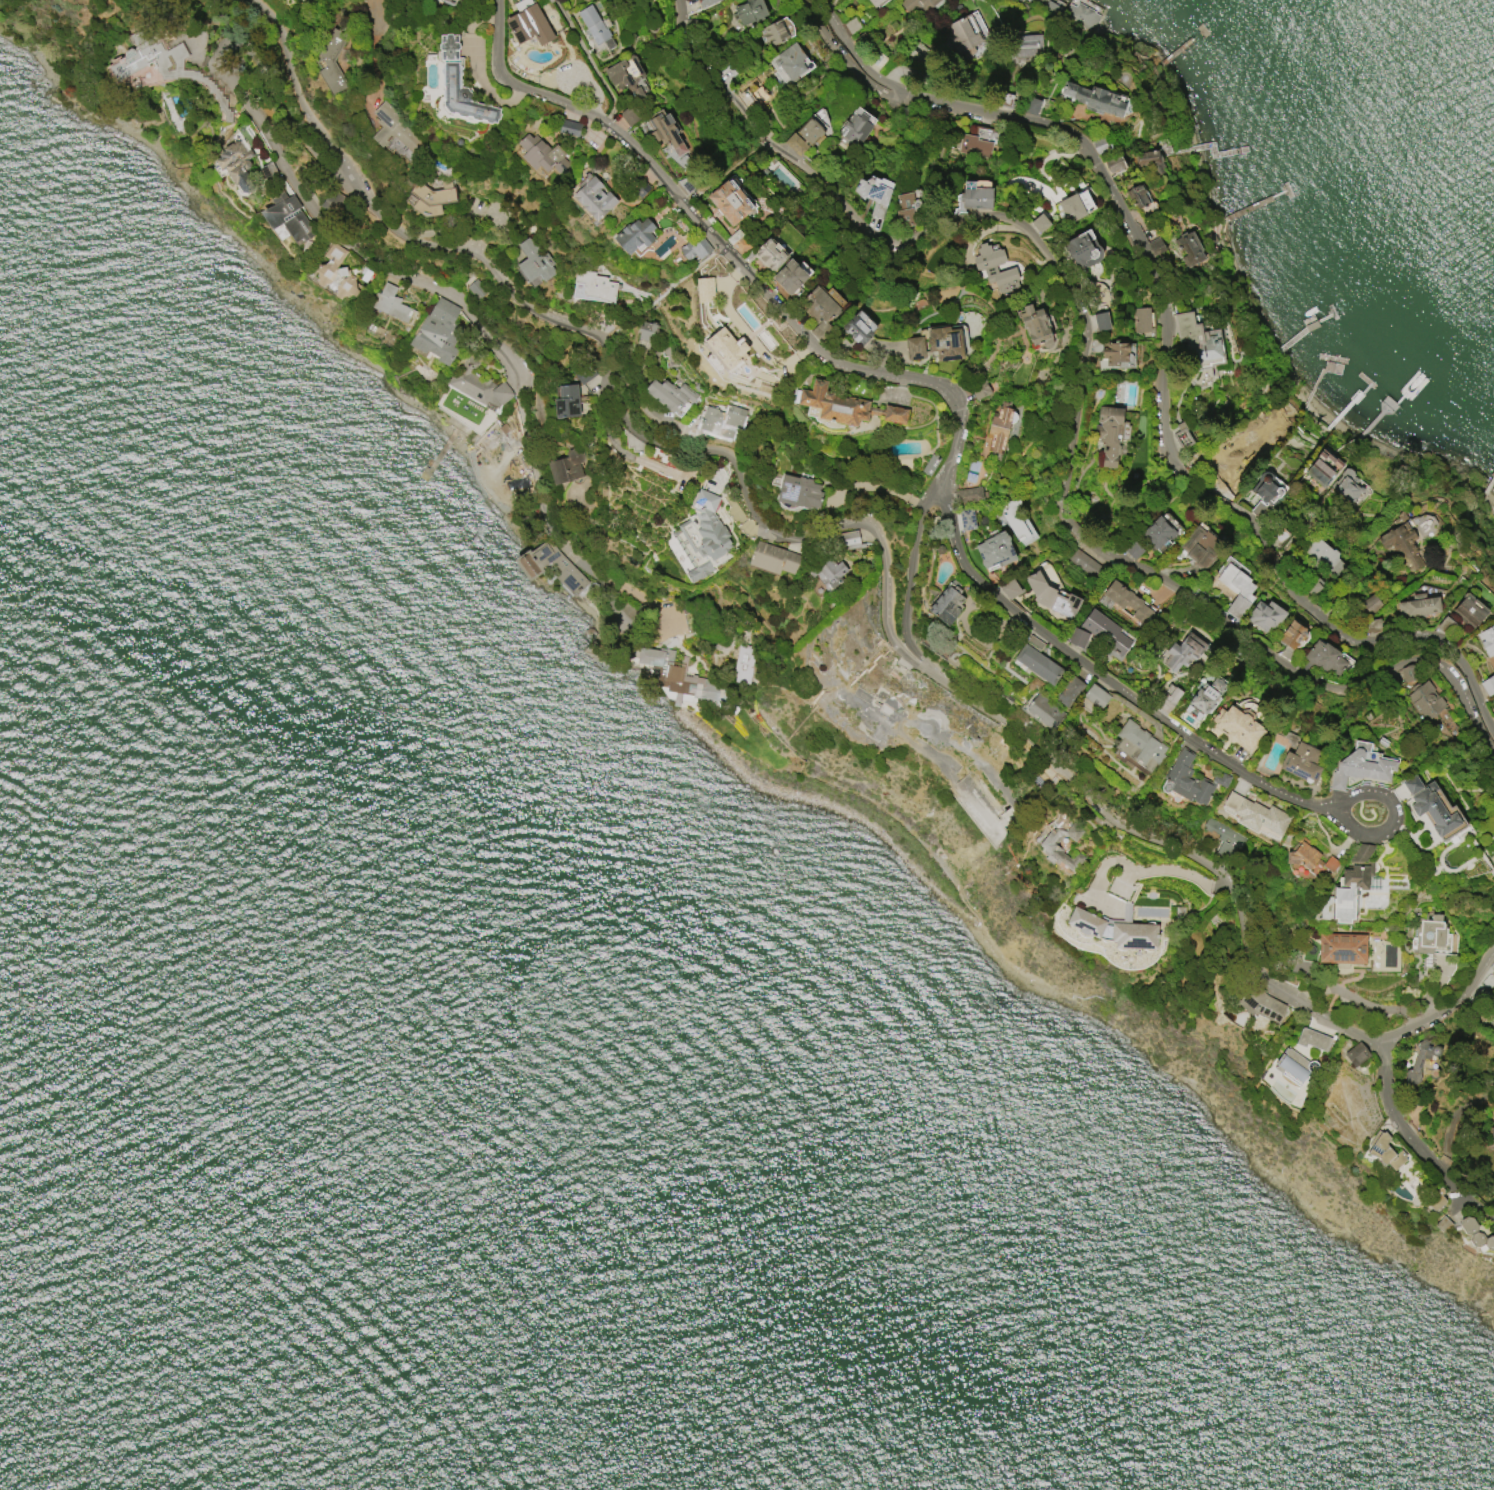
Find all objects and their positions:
building: (300, 0)
building: (301, 0)
building: (453, 0)
building: (875, 2)
building: (1033, 2)
building: (705, 3)
building: (917, 5)
building: (750, 11)
building: (1073, 12)
building: (528, 23)
building: (691, 23)
building: (852, 24)
building: (594, 25)
building: (773, 33)
building: (963, 34)
building: (1026, 45)
building: (448, 47)
road: (588, 59)
building: (330, 62)
building: (786, 65)
road: (847, 66)
building: (177, 70)
building: (626, 75)
building: (752, 93)
building: (462, 96)
building: (1093, 98)
building: (1002, 100)
road: (247, 102)
building: (1030, 107)
building: (628, 116)
building: (820, 119)
building: (569, 128)
building: (855, 128)
building: (663, 130)
building: (395, 133)
building: (803, 136)
building: (1101, 144)
building: (974, 146)
building: (543, 155)
building: (1149, 160)
building: (1114, 163)
building: (236, 165)
building: (684, 185)
building: (639, 187)
building: (873, 196)
building: (975, 197)
building: (1136, 197)
building: (431, 198)
building: (594, 199)
building: (730, 202)
building: (1071, 208)
building: (906, 209)
building: (288, 217)
building: (1040, 223)
building: (634, 235)
road: (338, 242)
building: (738, 242)
building: (1156, 247)
building: (695, 249)
building: (1083, 249)
building: (1188, 249)
building: (767, 255)
building: (534, 261)
building: (994, 266)
building: (714, 267)
building: (335, 271)
building: (789, 276)
building: (595, 284)
building: (475, 288)
building: (704, 289)
building: (390, 304)
building: (819, 311)
building: (1140, 319)
building: (1100, 322)
building: (1035, 326)
building: (857, 329)
building: (437, 331)
building: (648, 332)
road: (749, 334)
building: (1198, 339)
road: (808, 341)
building: (944, 343)
building: (1096, 346)
building: (727, 347)
building: (914, 348)
building: (1115, 353)
road: (1162, 368)
building: (583, 372)
building: (477, 386)
building: (979, 389)
building: (669, 394)
road: (1076, 395)
building: (567, 401)
building: (845, 406)
building: (722, 420)
building: (999, 428)
building: (1108, 432)
building: (1230, 455)
building: (566, 466)
building: (1322, 467)
building: (1347, 485)
road: (874, 486)
building: (1267, 491)
building: (968, 494)
building: (797, 495)
building: (966, 519)
building: (1017, 522)
building: (1156, 532)
building: (702, 535)
road: (806, 538)
building: (849, 539)
building: (1402, 546)
building: (1199, 547)
building: (1133, 550)
building: (995, 552)
building: (1321, 553)
building: (772, 558)
building: (1084, 563)
building: (549, 566)
building: (829, 573)
building: (1312, 585)
building: (1009, 588)
building: (1235, 588)
building: (1051, 596)
building: (1001, 599)
building: (1126, 601)
building: (946, 603)
building: (1369, 603)
building: (1417, 605)
building: (1468, 610)
building: (1265, 615)
building: (1372, 626)
building: (1106, 631)
building: (1291, 634)
building: (1077, 637)
building: (1487, 641)
building: (1184, 652)
building: (649, 657)
building: (1324, 658)
building: (1037, 660)
building: (742, 664)
building: (1406, 673)
building: (687, 683)
building: (1487, 685)
building: (1068, 691)
building: (1168, 699)
building: (1202, 699)
building: (1424, 699)
building: (1043, 710)
building: (1192, 712)
building: (1493, 717)
road: (1163, 718)
building: (1238, 727)
building: (1132, 731)
building: (1301, 762)
building: (1359, 768)
building: (1186, 779)
building: (1220, 779)
building: (1432, 809)
building: (1255, 814)
building: (1222, 836)
building: (1048, 846)
building: (1309, 860)
road: (1177, 870)
building: (1351, 883)
building: (1113, 930)
building: (1431, 931)
building: (1341, 948)
road: (1446, 1008)
building: (1311, 1039)
building: (1355, 1054)
building: (1417, 1063)
building: (1293, 1066)
building: (1490, 1138)
road: (1416, 1144)
building: (1385, 1151)
building: (1435, 1203)
building: (1441, 1224)
building: (1474, 1234)

